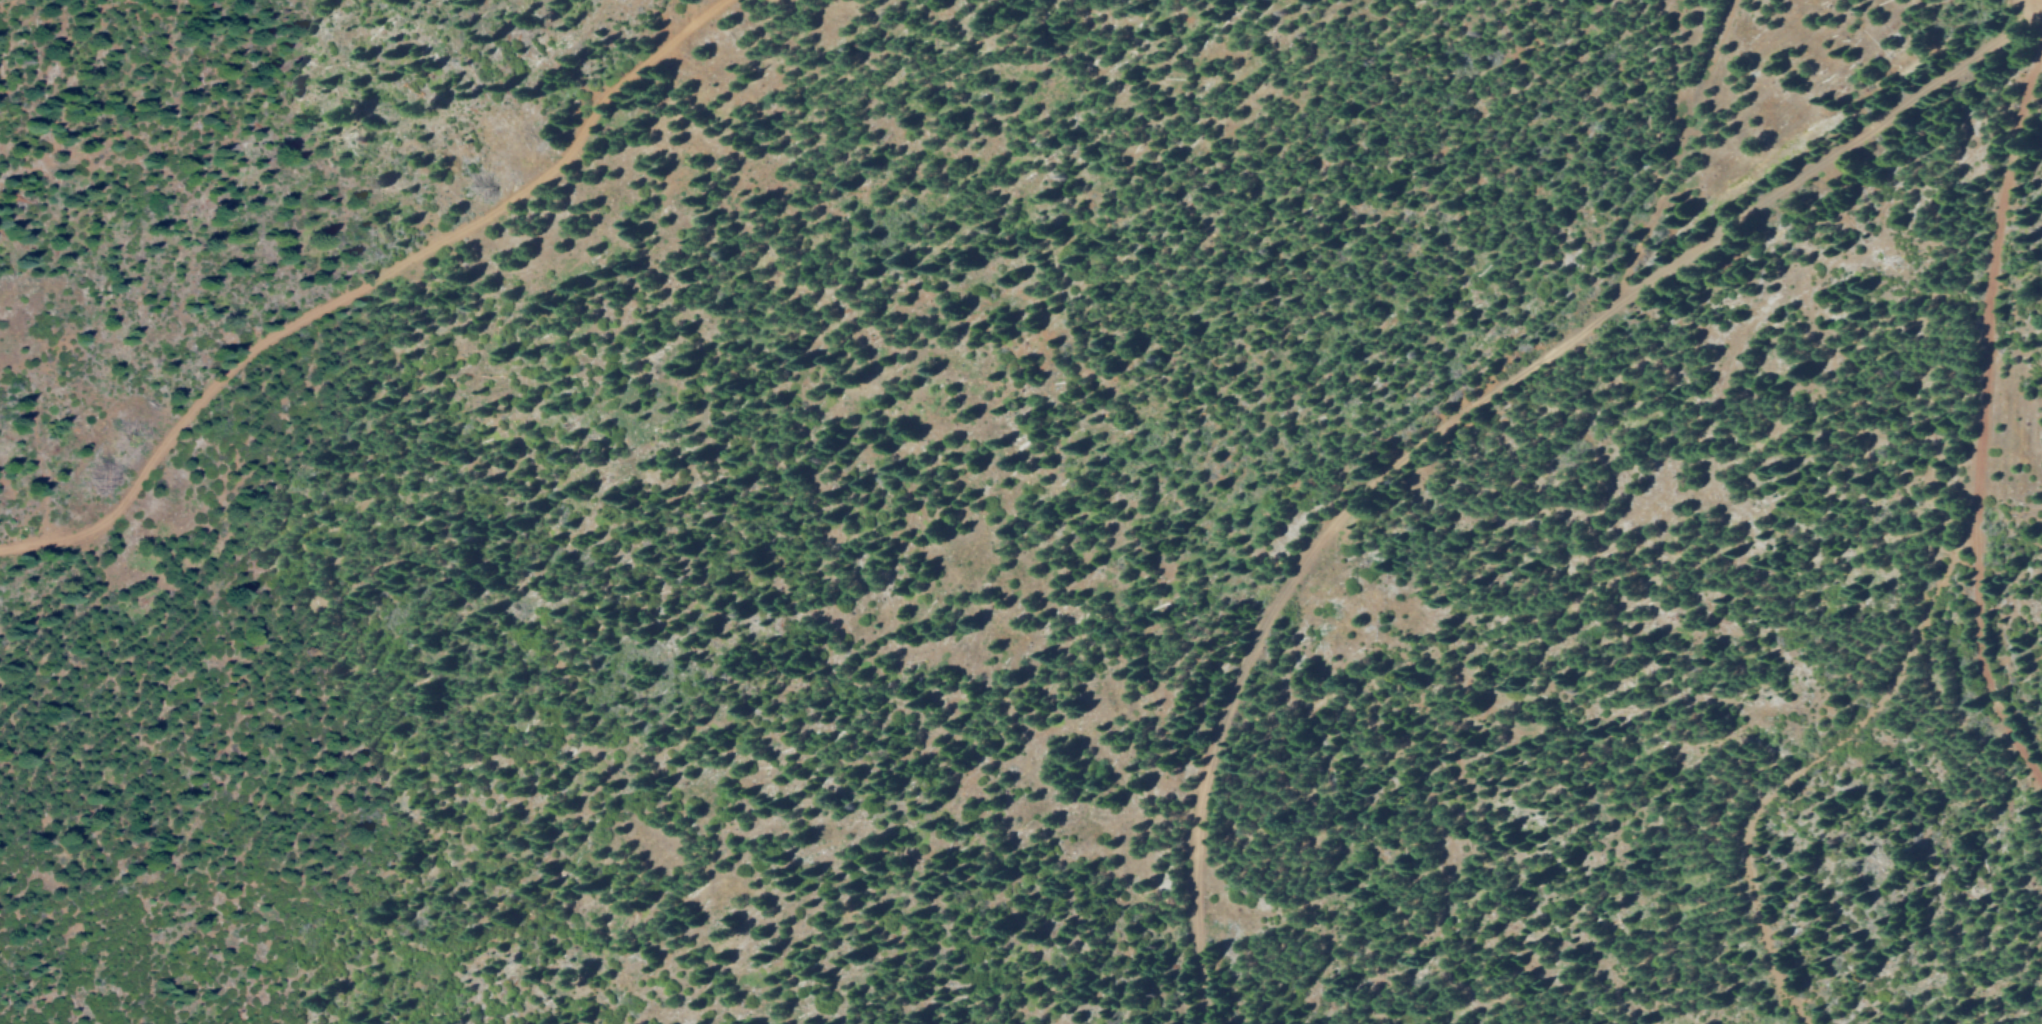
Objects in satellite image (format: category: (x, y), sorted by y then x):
road: (362, 283)
road: (1988, 291)
road: (1459, 407)
road: (1979, 651)
road: (1815, 763)

